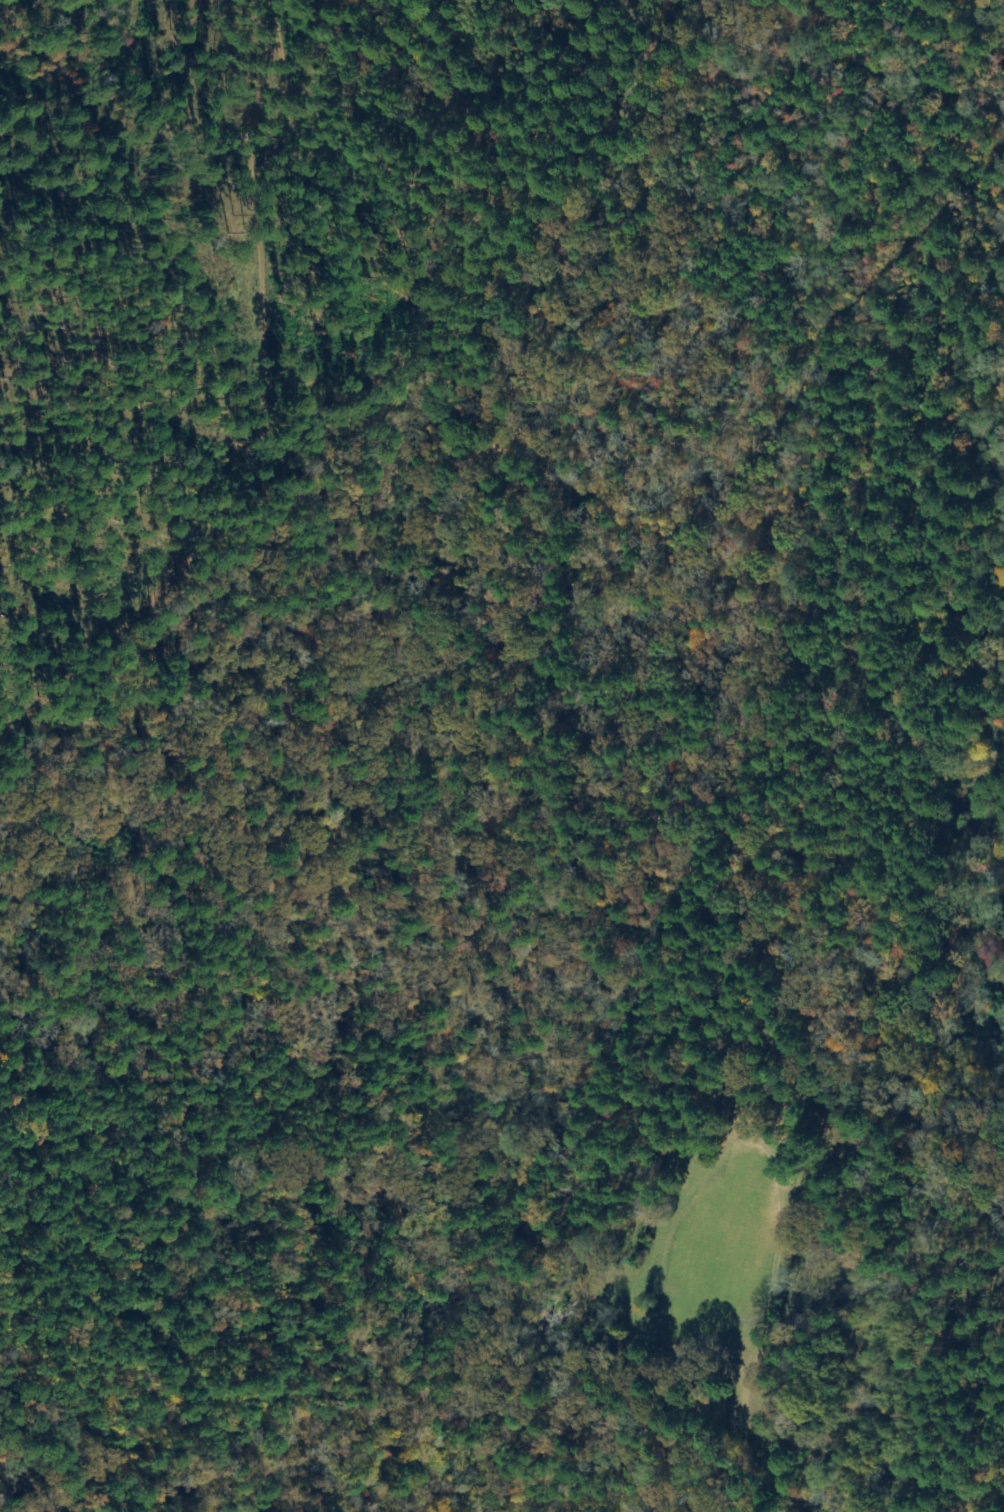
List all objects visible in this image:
park: (240, 253)
road: (289, 390)
road: (410, 1066)

